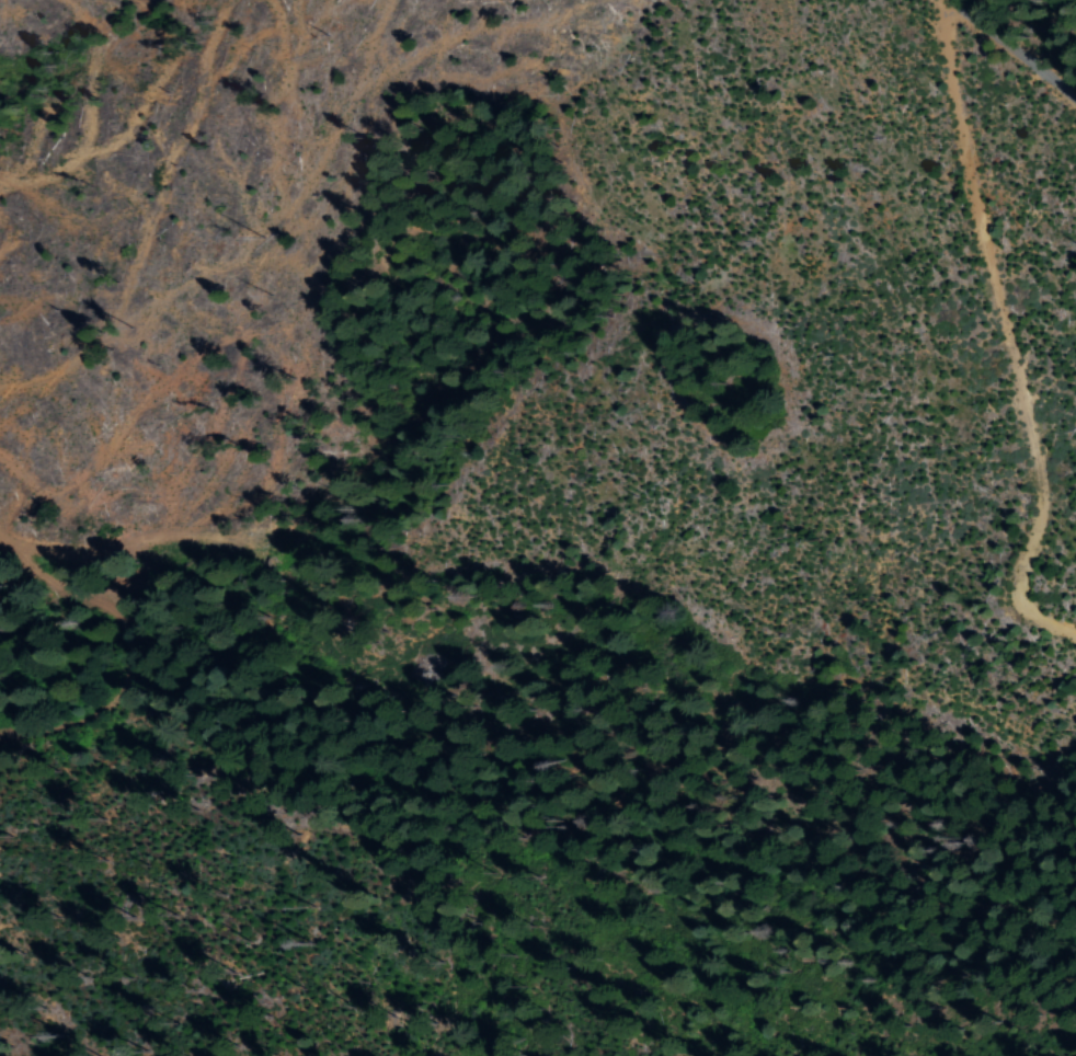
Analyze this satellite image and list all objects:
road: (104, 636)

